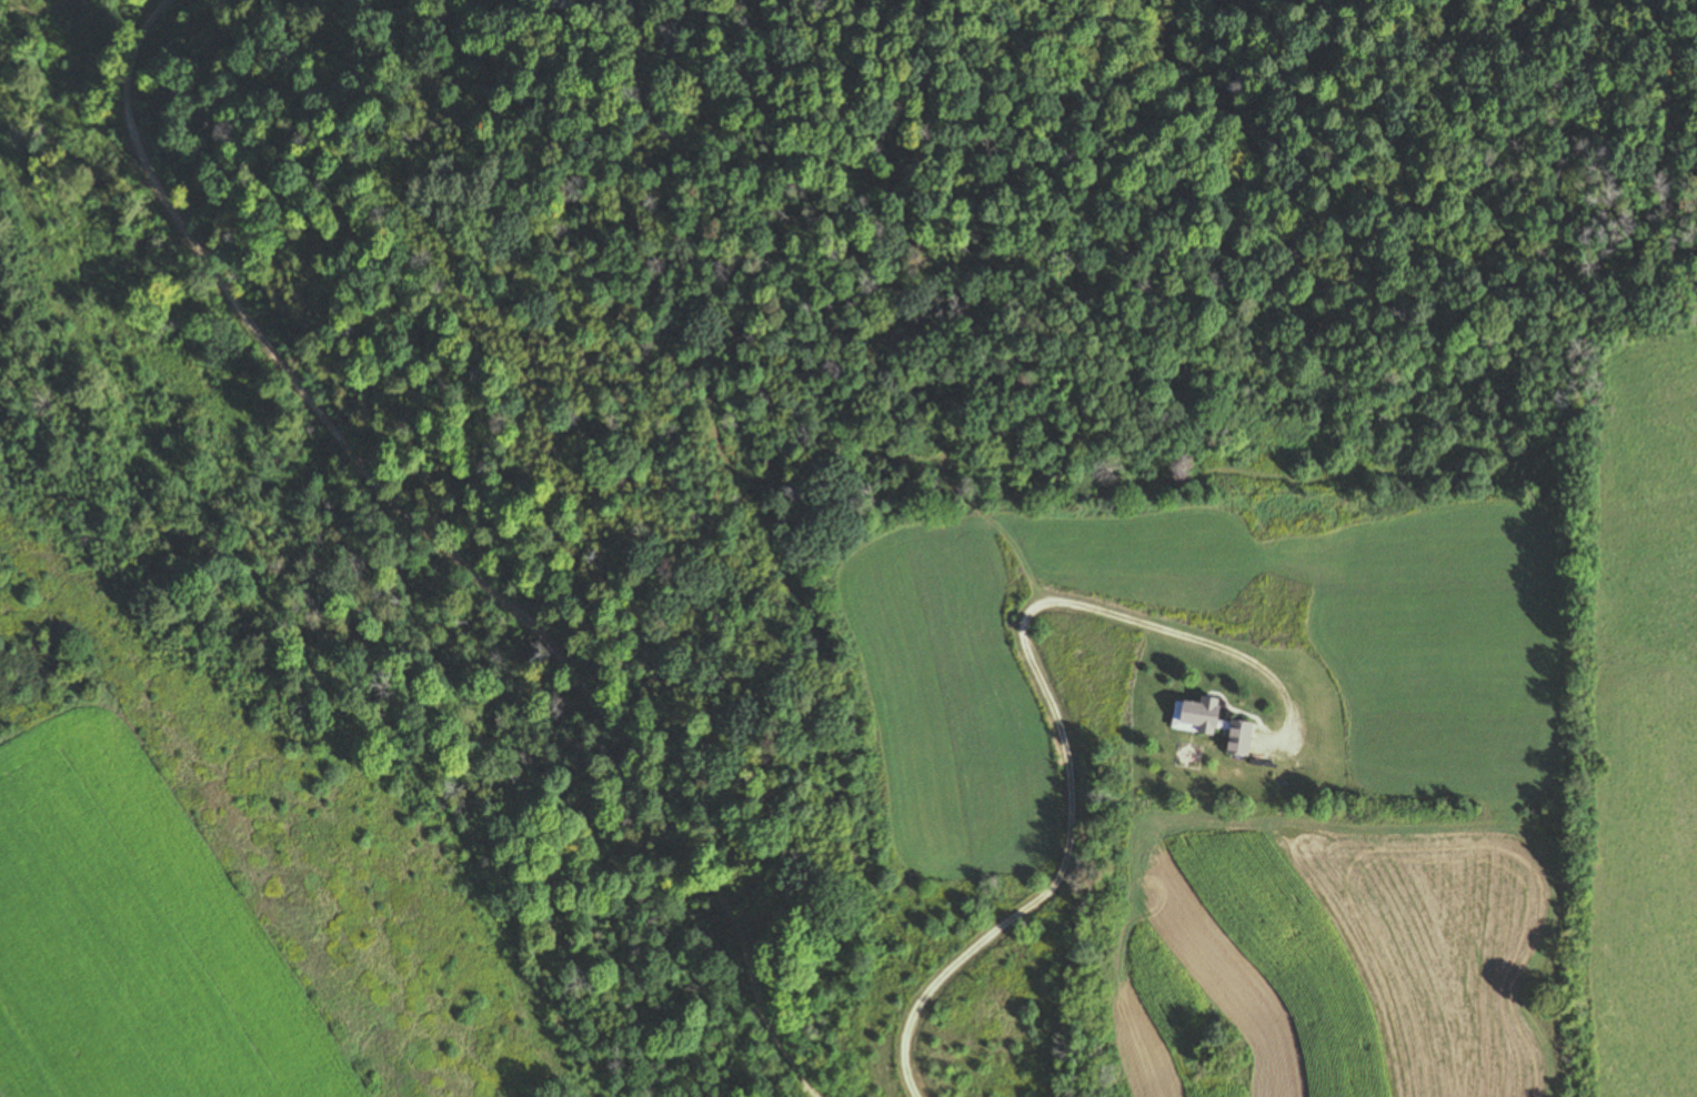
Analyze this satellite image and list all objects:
road: (450, 546)
road: (1057, 723)

